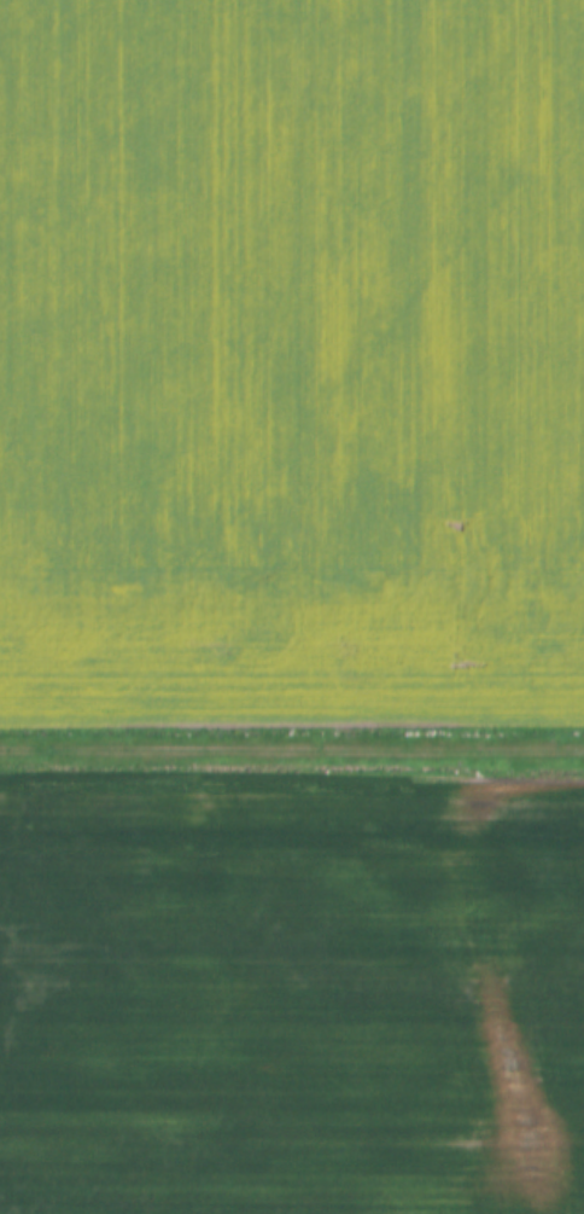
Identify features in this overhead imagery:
road: (292, 748)

